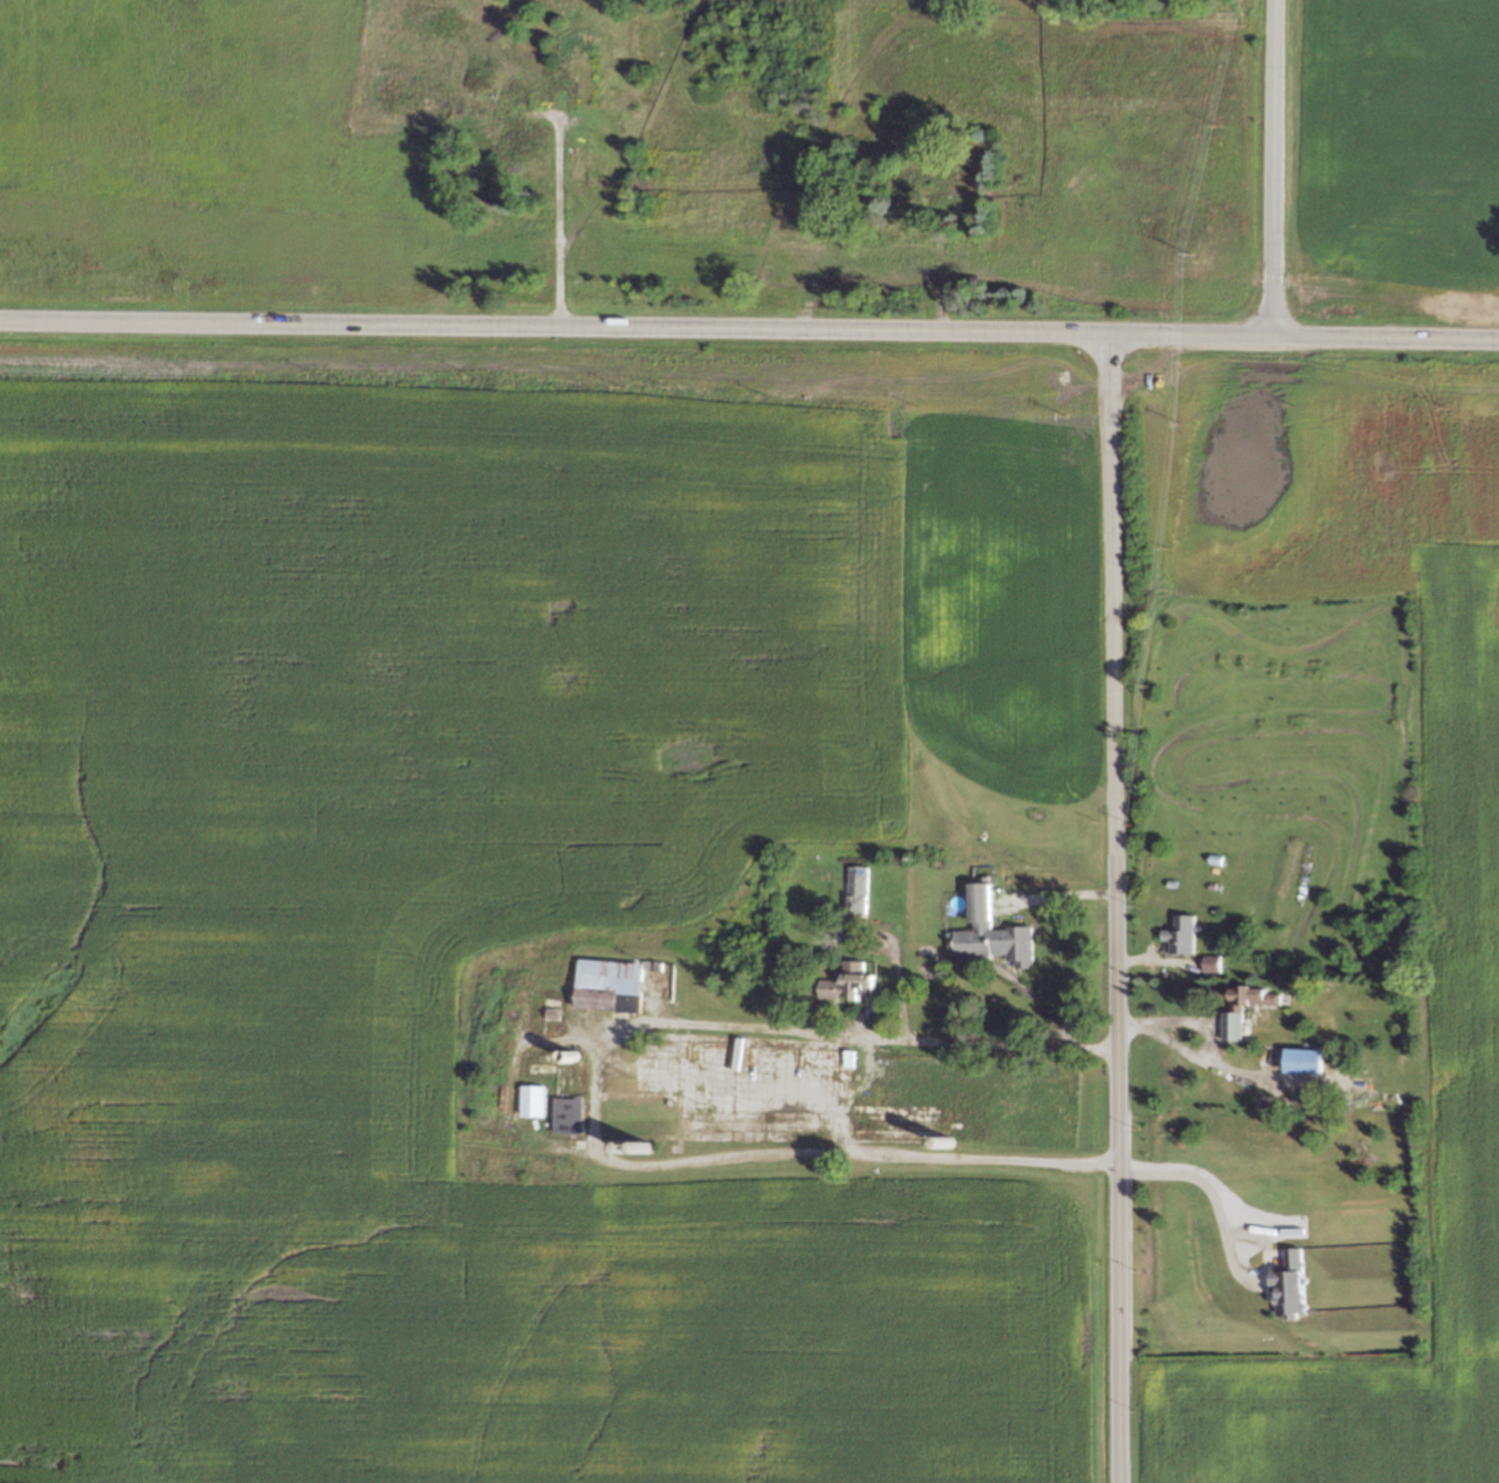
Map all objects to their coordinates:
building: (519, 140)
road: (1267, 168)
building: (920, 183)
road: (553, 225)
building: (789, 237)
road: (938, 273)
road: (812, 295)
road: (554, 325)
road: (1304, 336)
building: (1210, 857)
building: (1165, 881)
building: (1207, 883)
building: (852, 888)
road: (1051, 891)
road: (1110, 908)
crop: (483, 919)
building: (1175, 929)
building: (977, 933)
building: (1206, 958)
building: (787, 972)
building: (847, 975)
building: (612, 979)
road: (897, 984)
building: (552, 1008)
building: (553, 1013)
road: (1054, 1018)
road: (1194, 1020)
building: (1226, 1020)
building: (572, 1049)
road: (1185, 1050)
building: (1400, 1051)
building: (848, 1052)
building: (1299, 1052)
building: (530, 1097)
road: (591, 1103)
building: (564, 1113)
building: (944, 1140)
building: (629, 1142)
building: (645, 1142)
road: (1185, 1177)
building: (1283, 1279)

